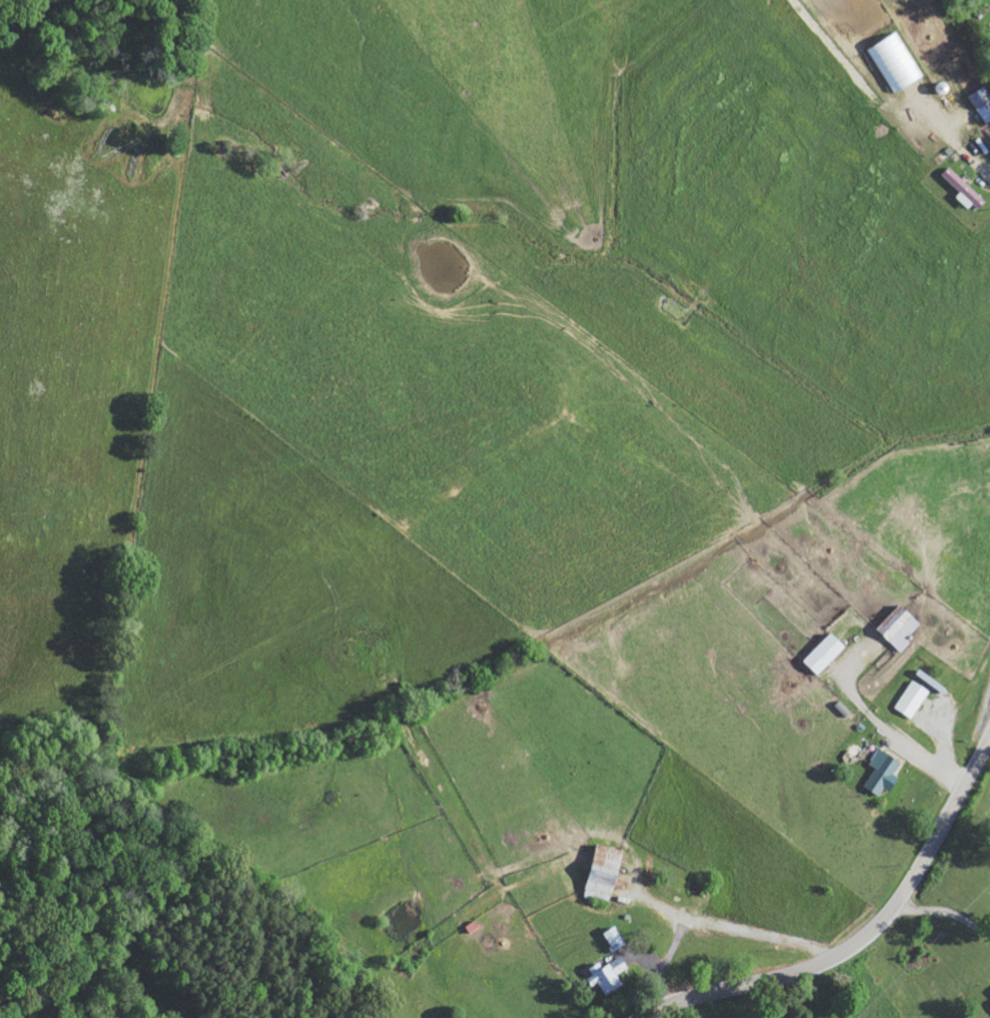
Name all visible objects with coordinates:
building: (989, 0)
building: (898, 63)
building: (983, 102)
building: (965, 189)
building: (902, 627)
building: (827, 654)
building: (914, 699)
building: (885, 773)
building: (607, 873)
road: (863, 936)
building: (616, 939)
building: (609, 976)

